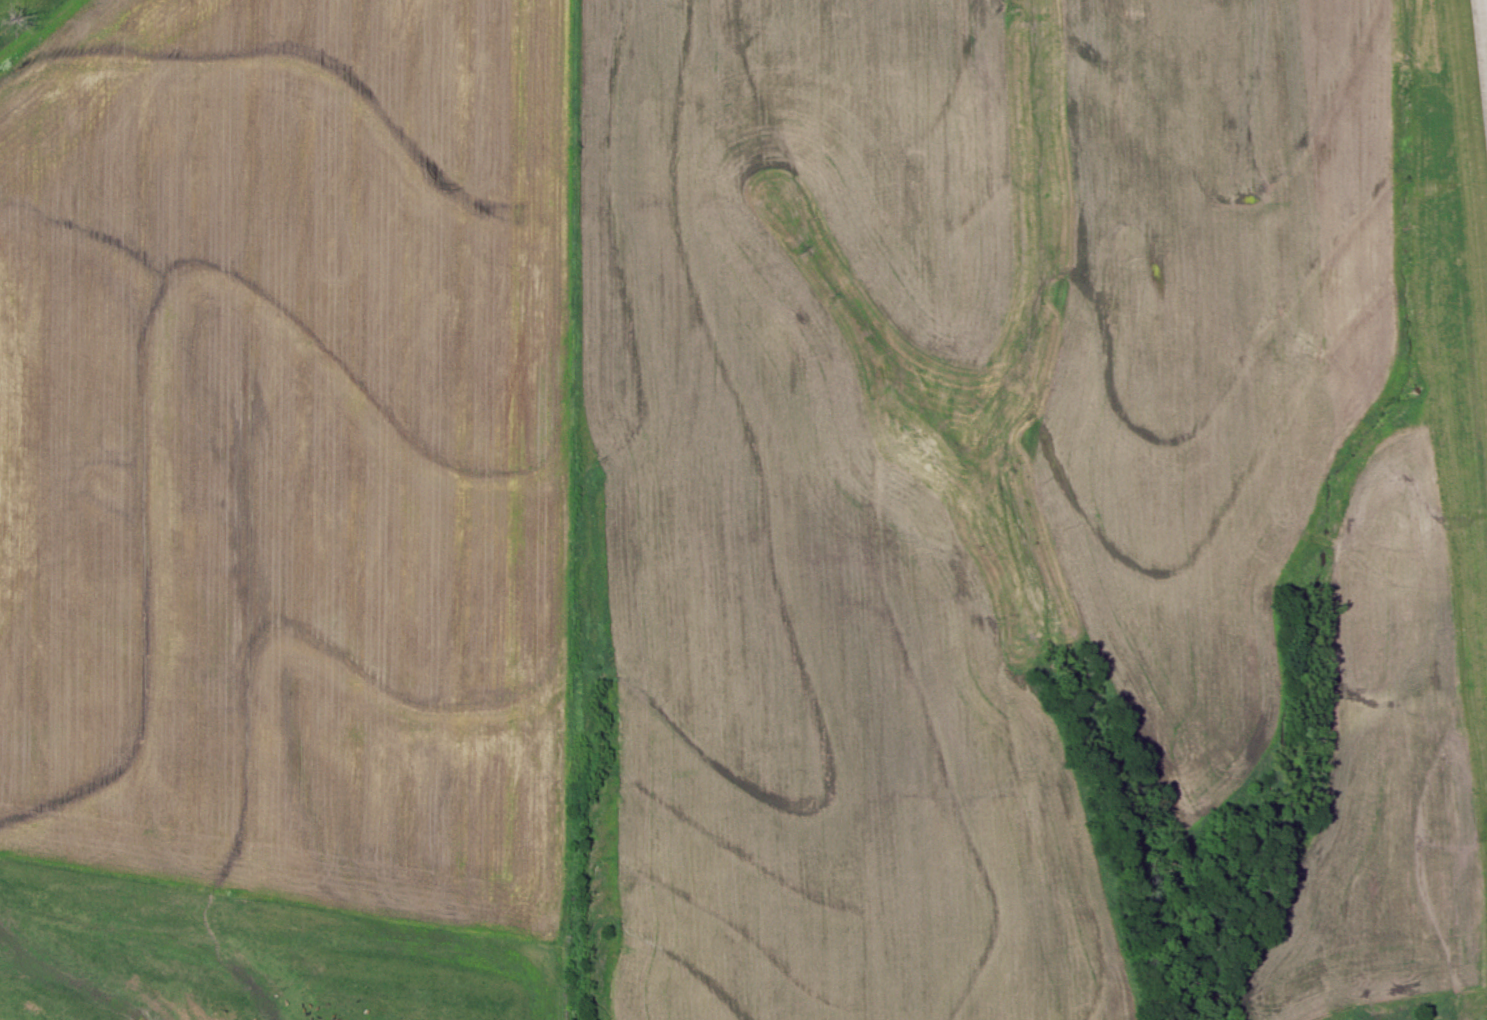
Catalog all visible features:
crop: (1211, 343)
crop: (291, 452)
airport: (1028, 510)
crop: (808, 541)

